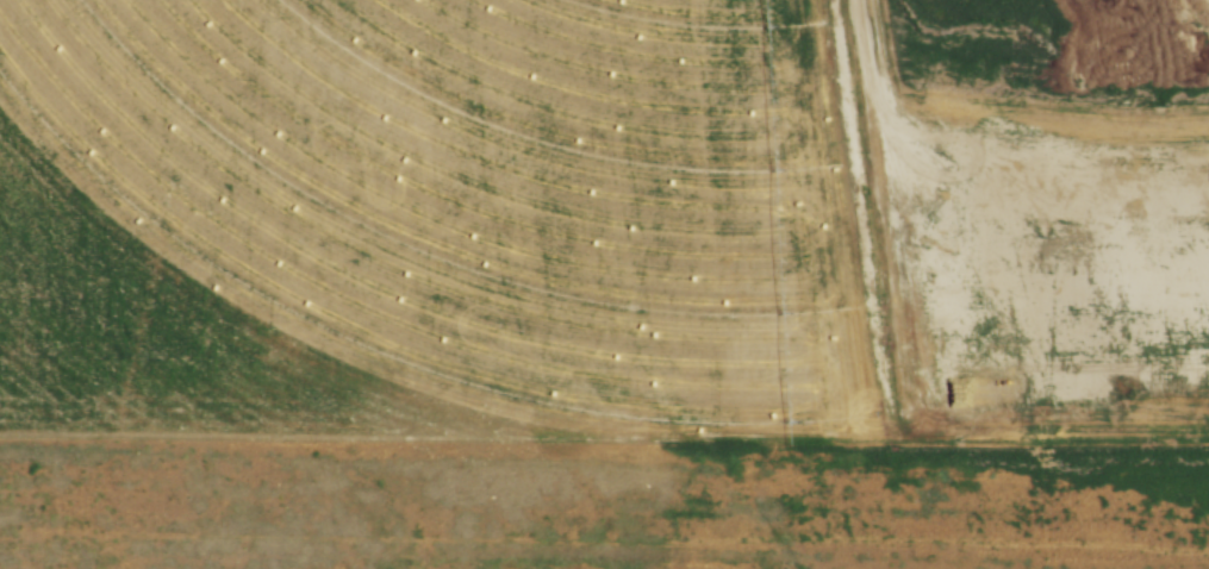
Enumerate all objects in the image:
crop: (411, 227)

